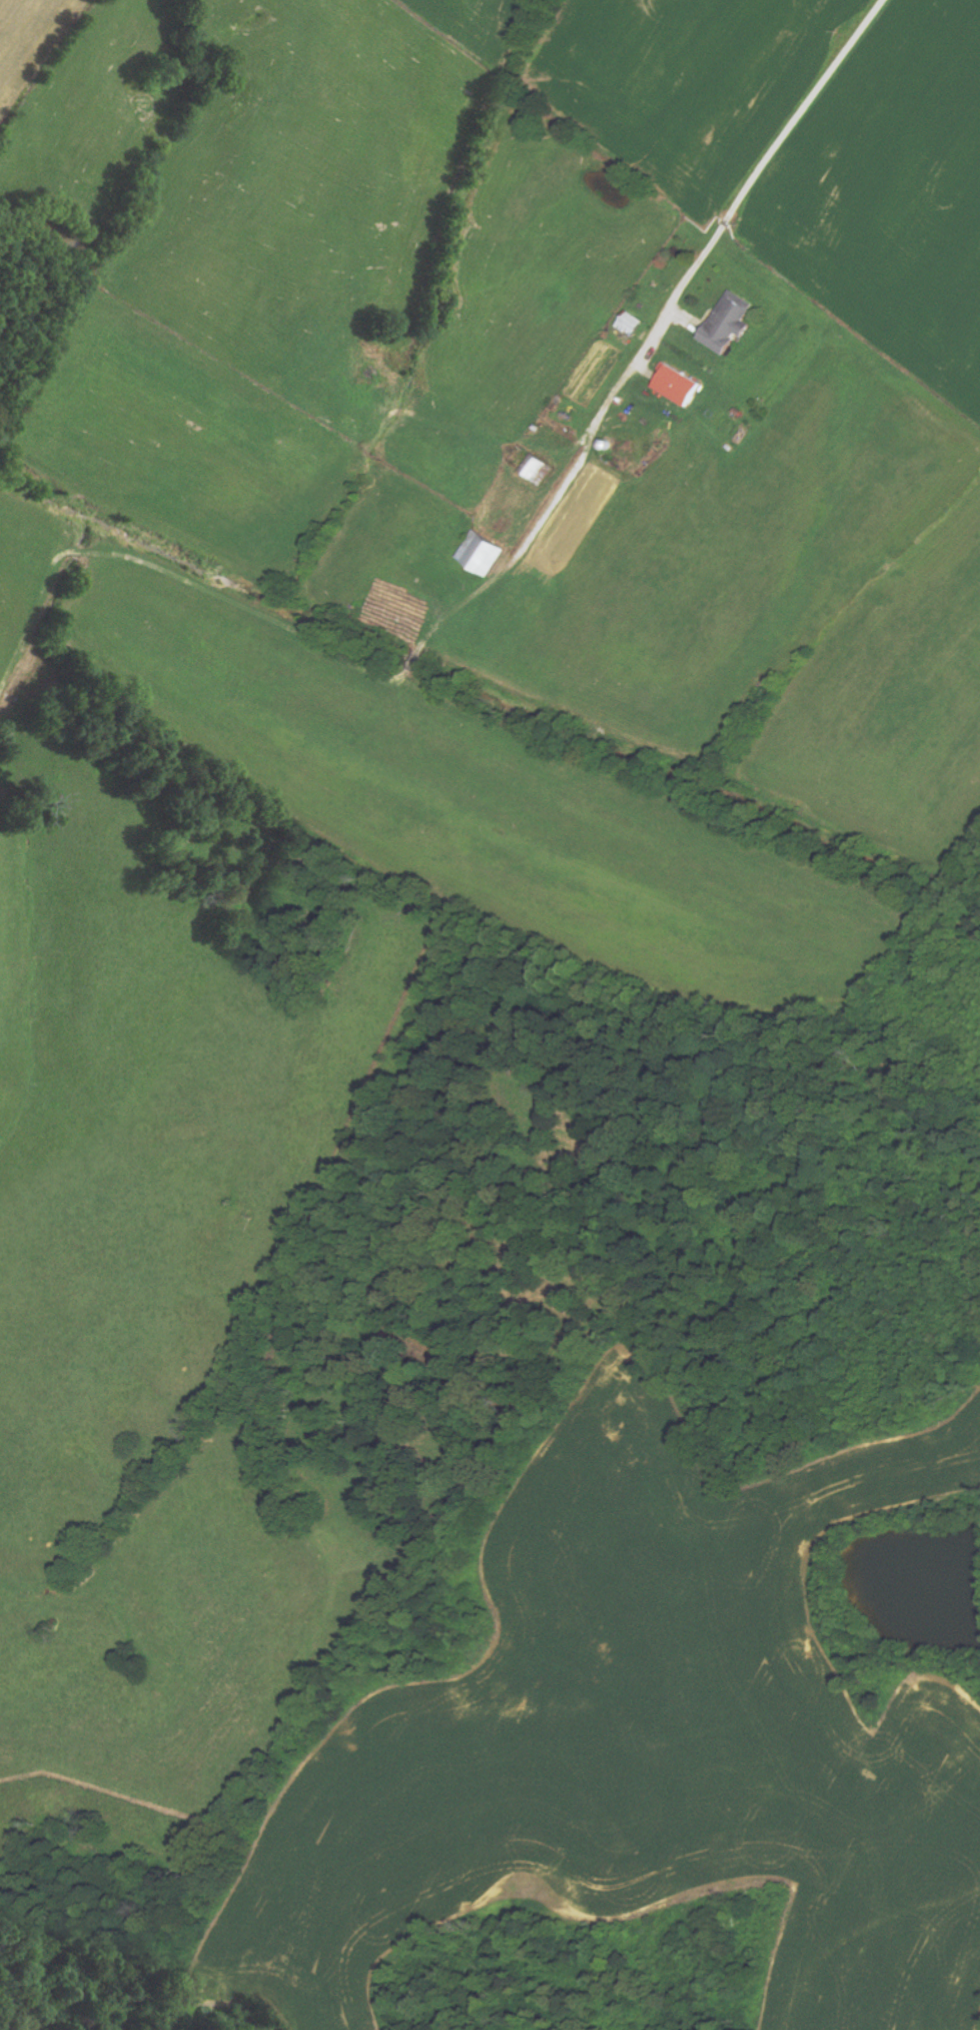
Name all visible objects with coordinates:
road: (691, 277)
building: (728, 322)
building: (630, 323)
building: (678, 385)
building: (541, 472)
building: (482, 554)
road: (963, 2022)

